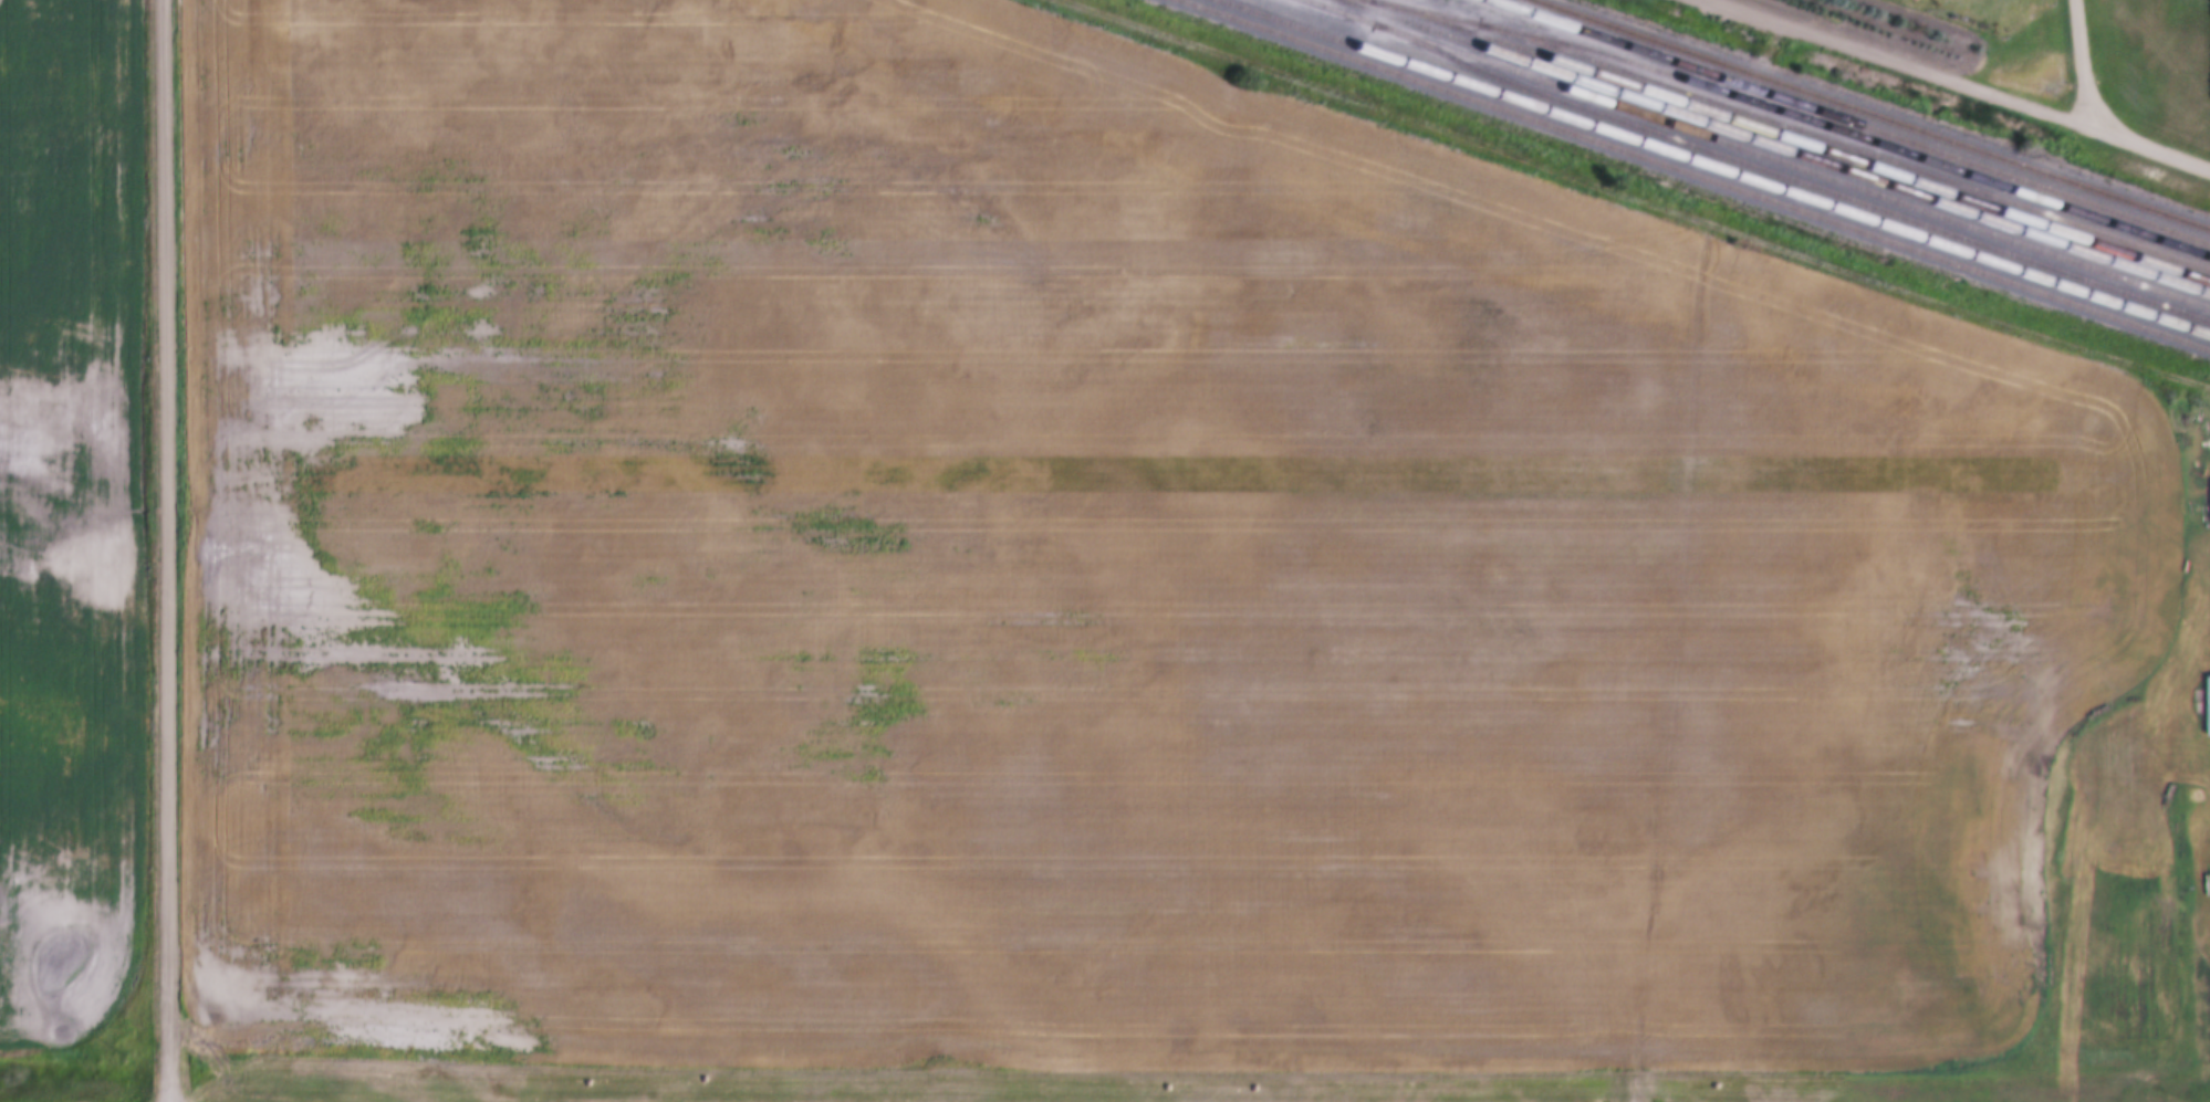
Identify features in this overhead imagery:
railway: (1507, 7)
road: (2093, 62)
road: (1974, 80)
railway: (1868, 115)
railway: (1846, 123)
railway: (1774, 147)
railway: (1754, 154)
railway: (1733, 160)
railway: (1922, 160)
railway: (1712, 167)
railway: (1872, 168)
railway: (1969, 188)
building: (2207, 490)
road: (171, 550)
building: (2207, 694)

